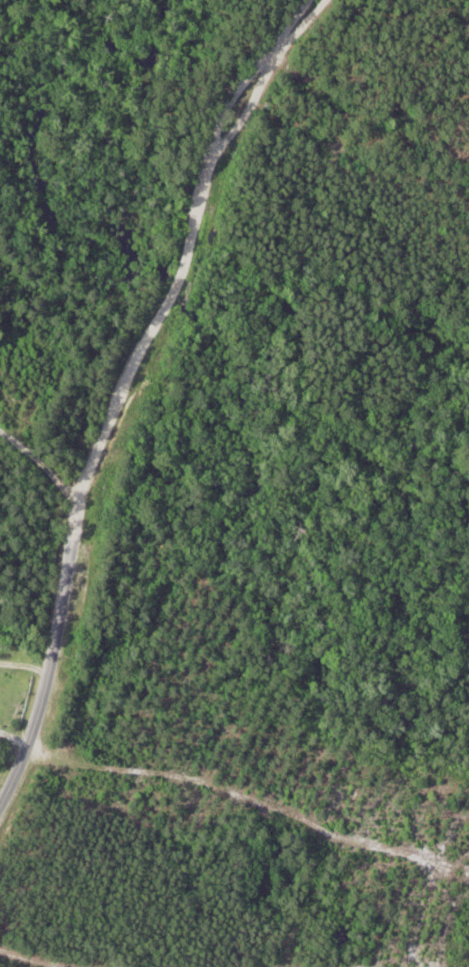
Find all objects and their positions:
road: (122, 392)
road: (41, 466)

